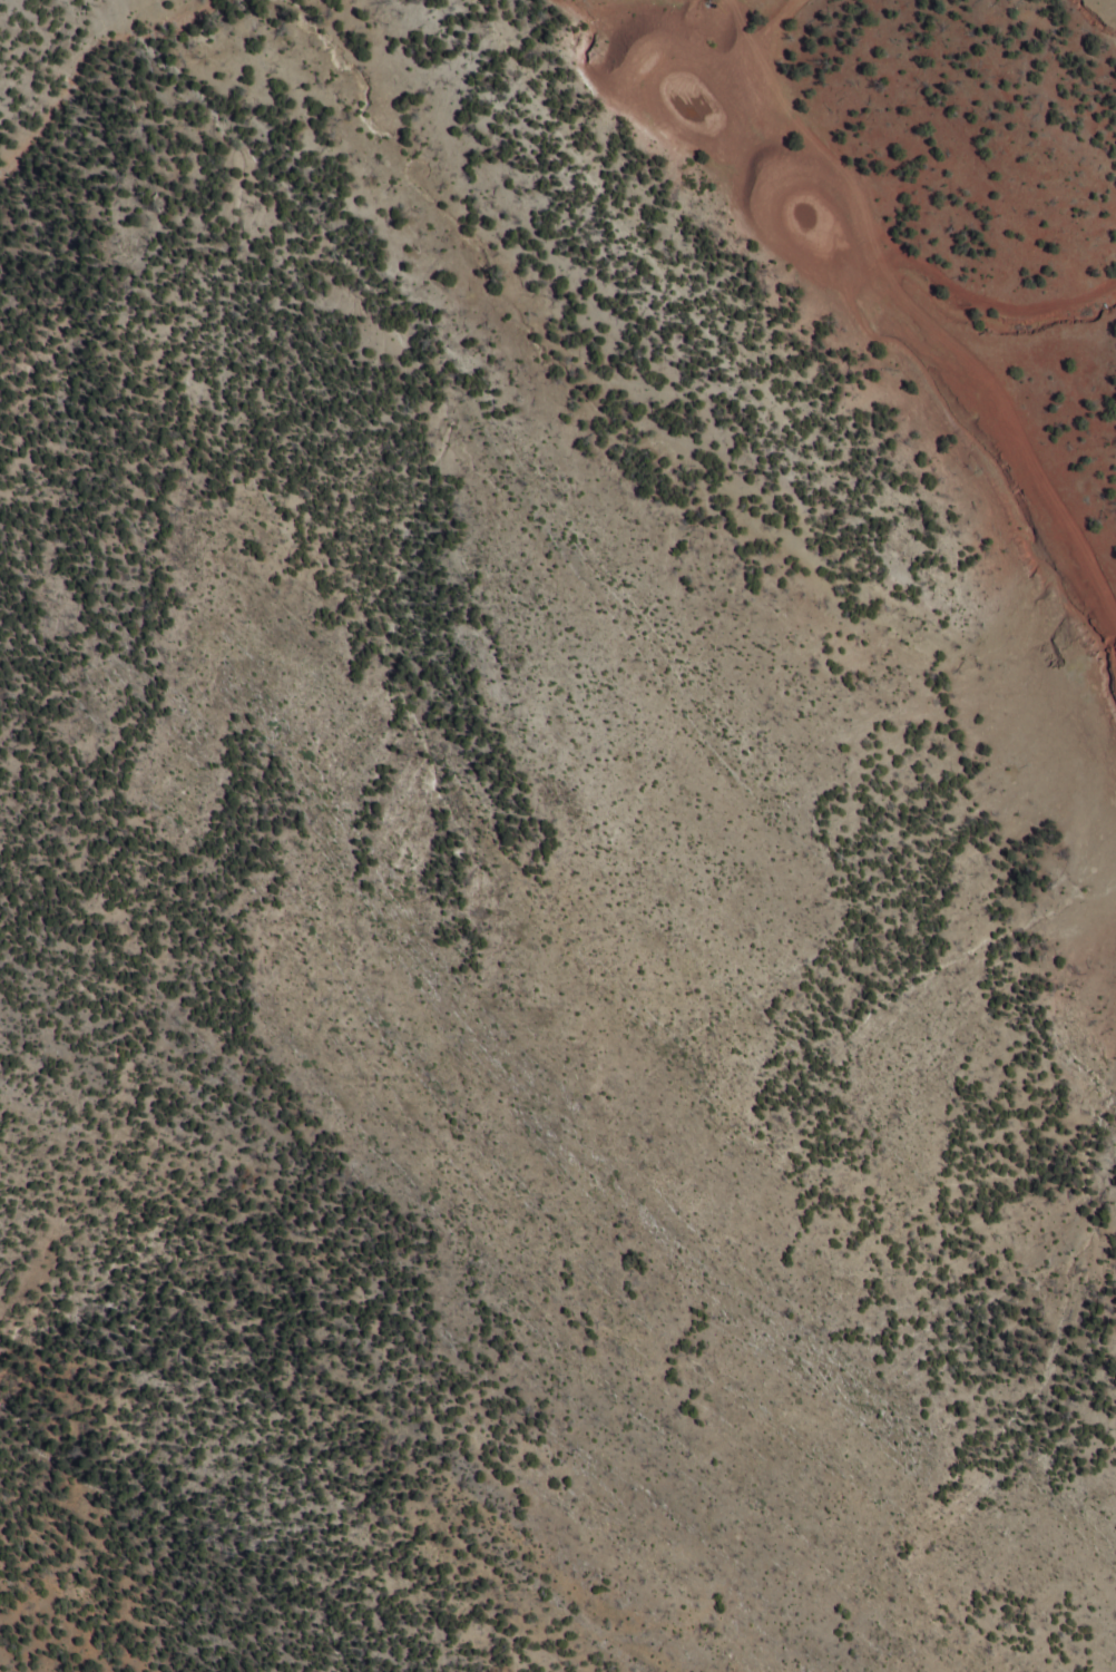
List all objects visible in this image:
road: (790, 111)
road: (979, 304)

